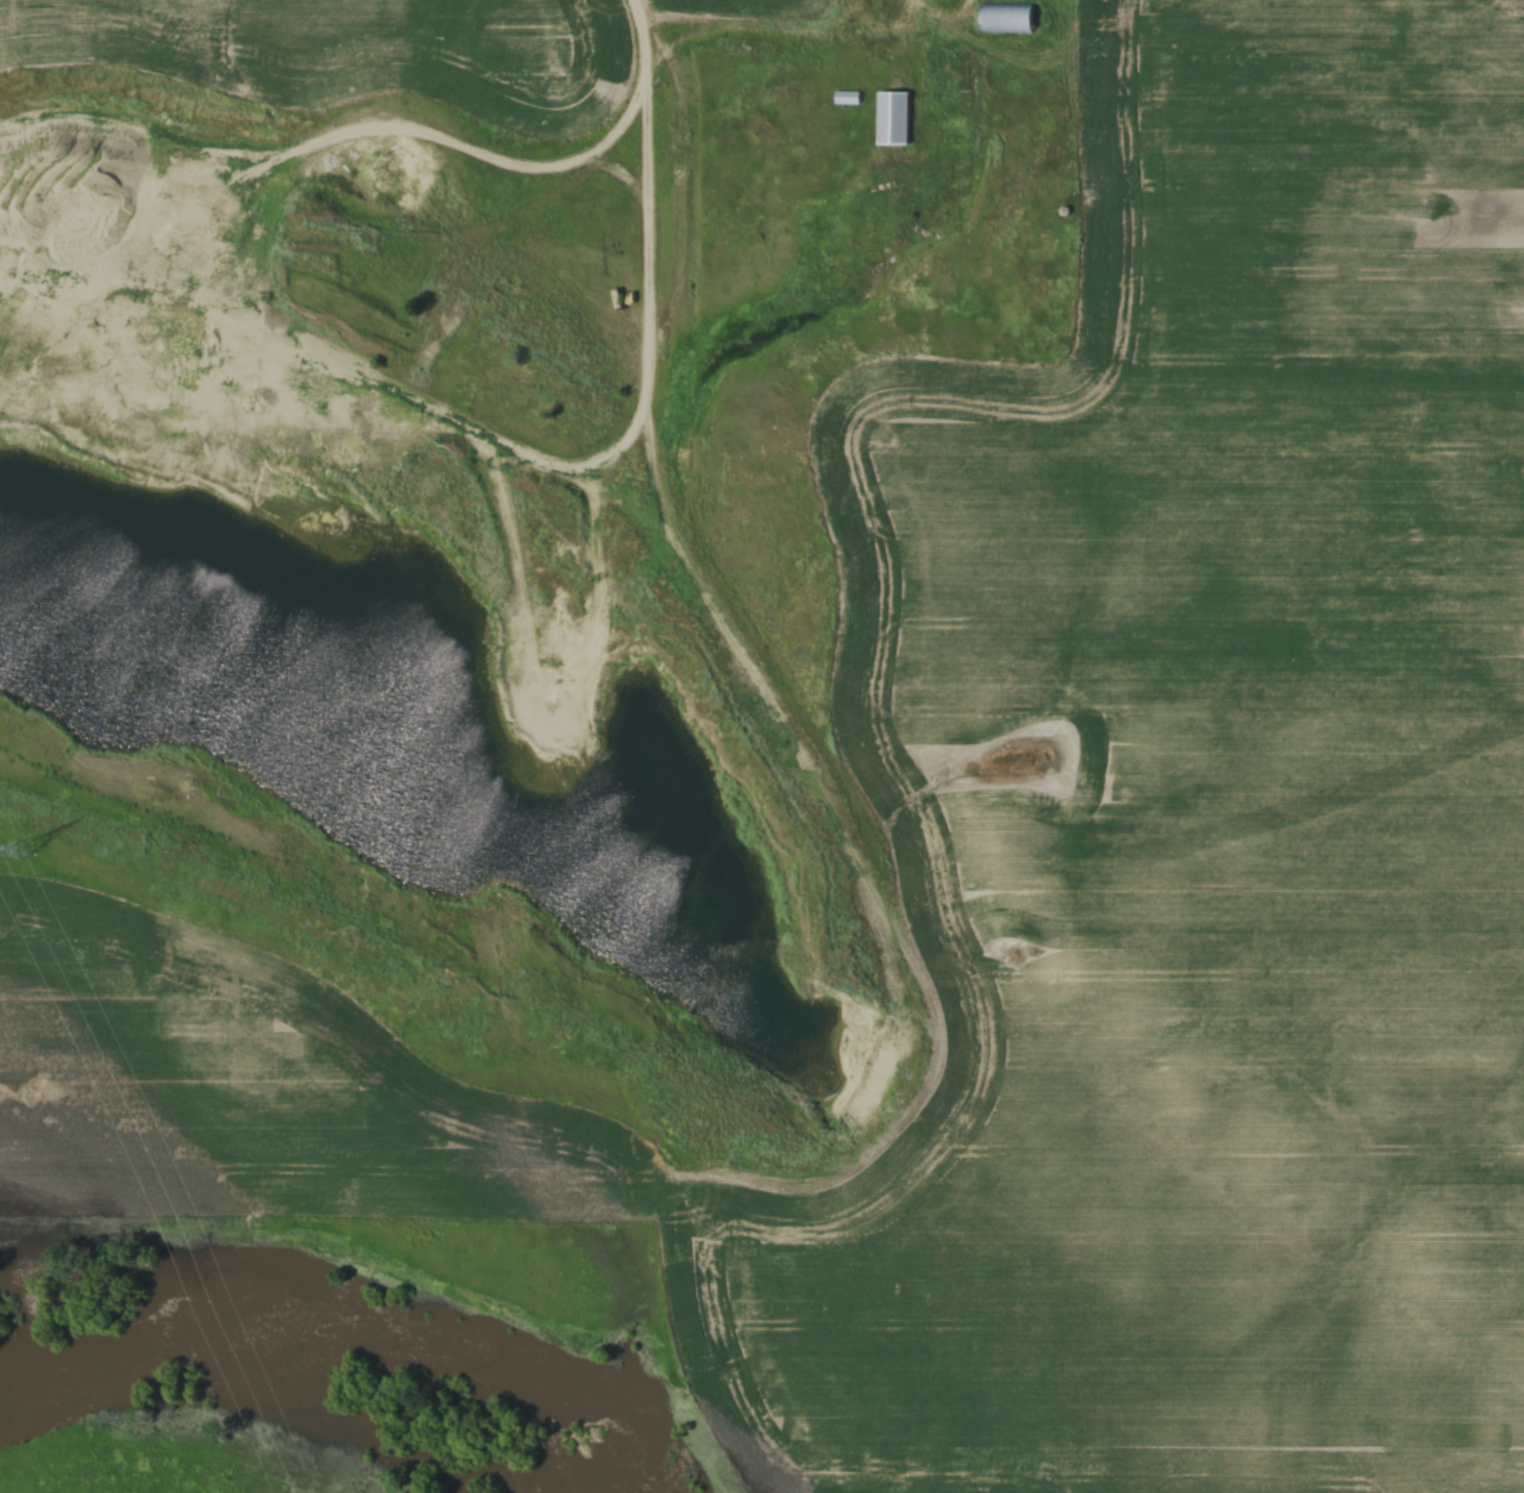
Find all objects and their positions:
building: (1006, 17)
building: (848, 98)
building: (895, 119)
power tower: (29, 856)
river: (357, 1317)

